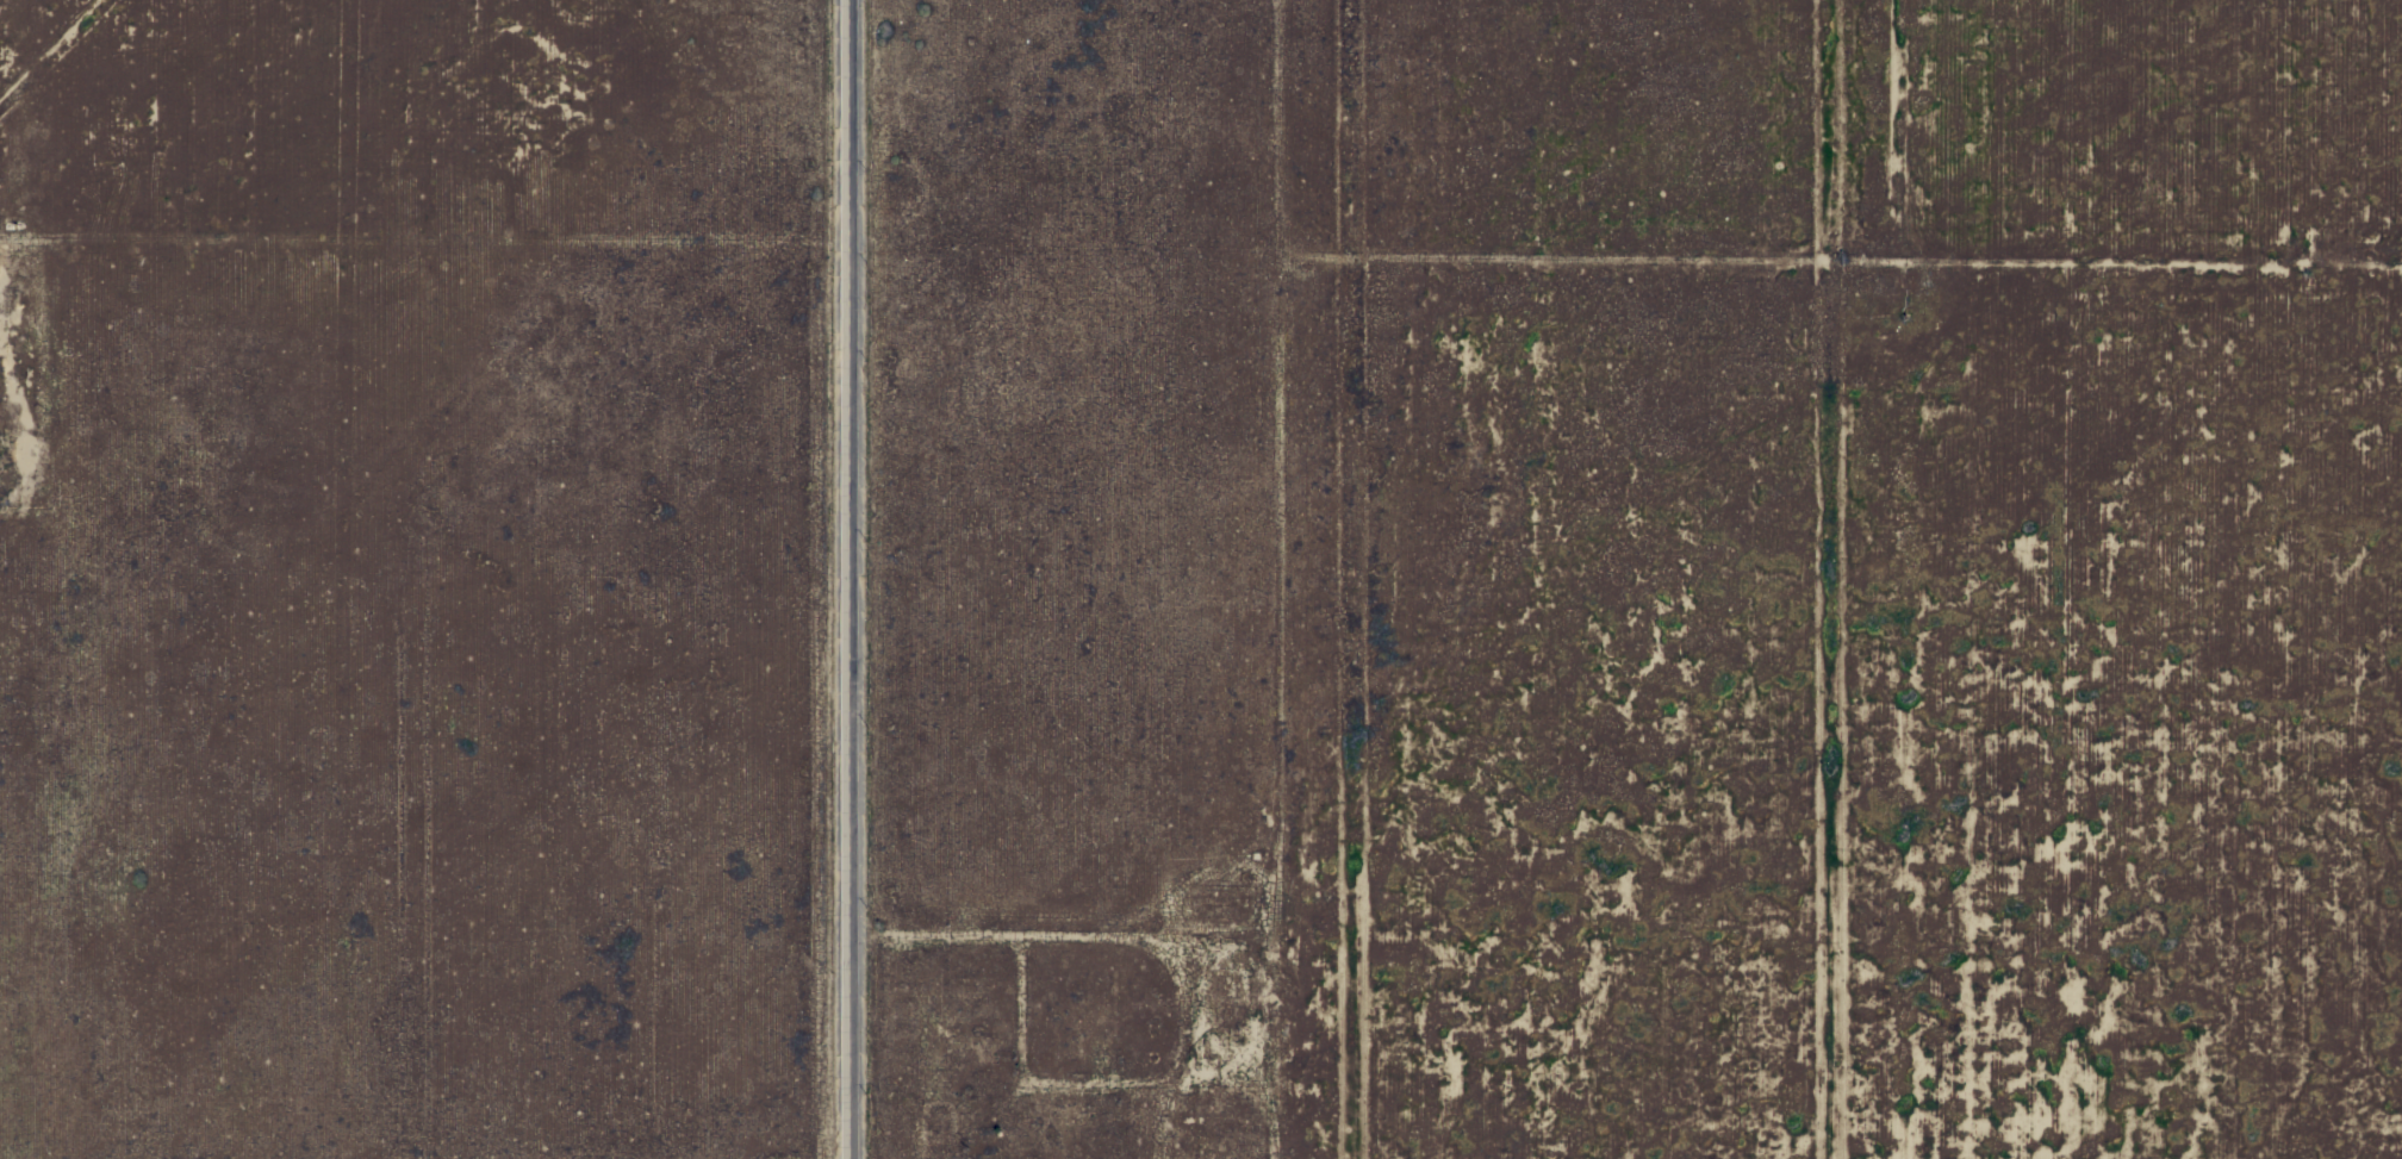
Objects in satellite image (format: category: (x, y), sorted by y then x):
road: (1897, 236)
road: (850, 579)

